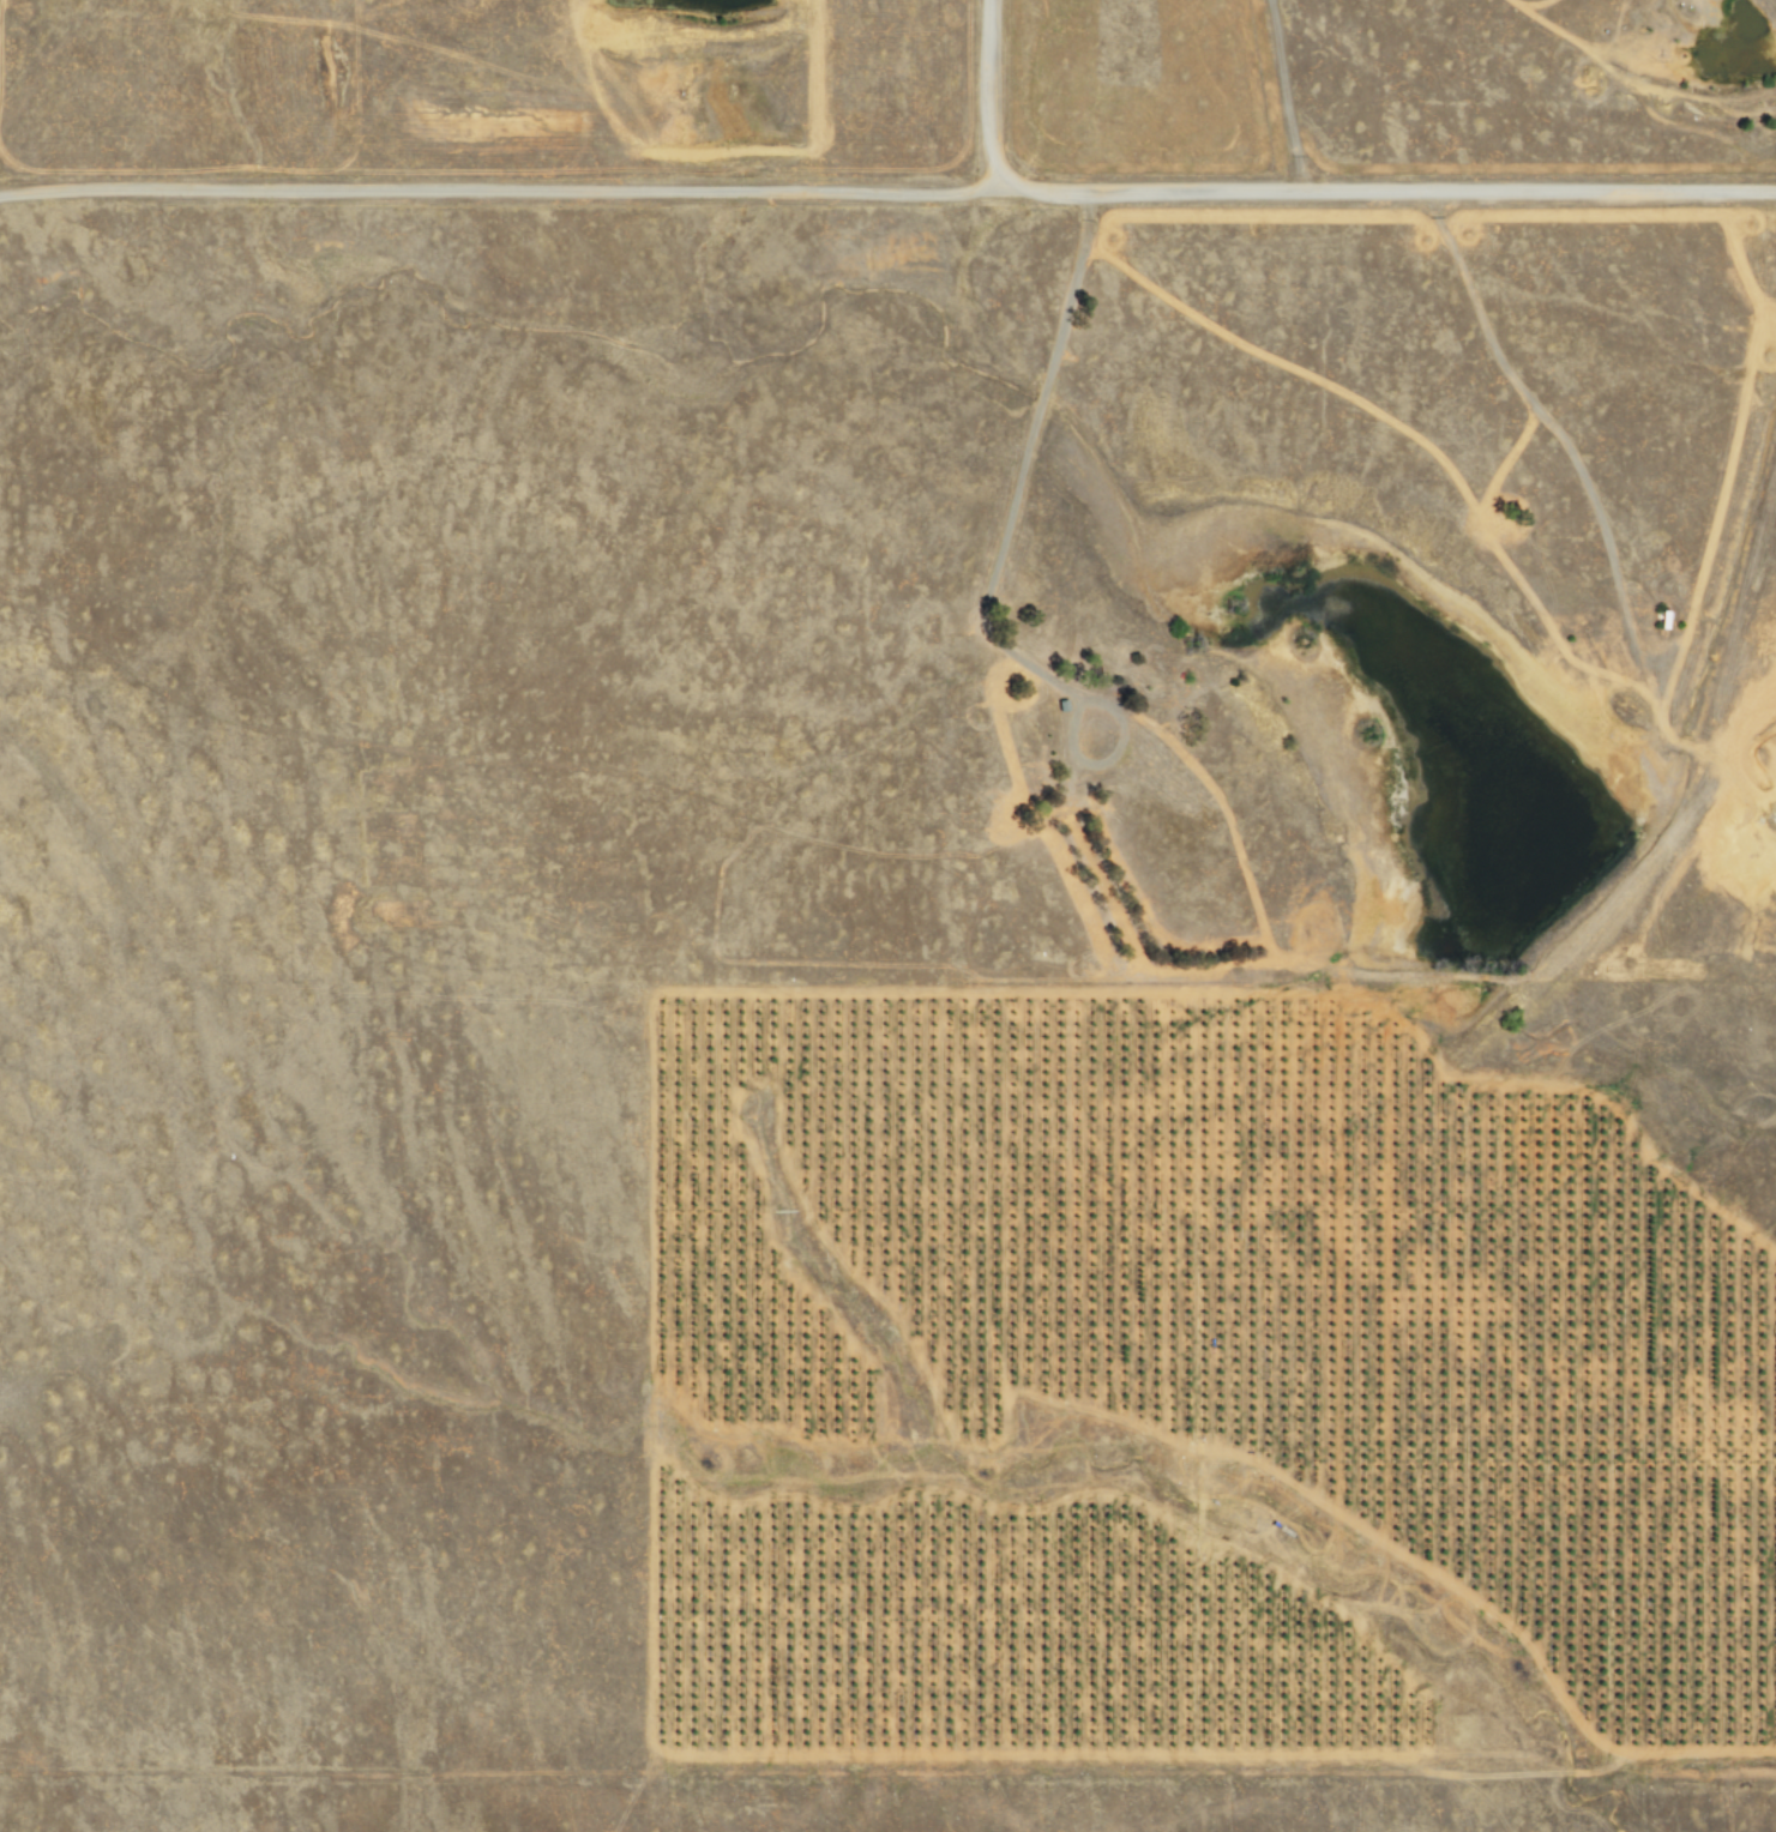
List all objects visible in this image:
road: (1283, 94)
road: (986, 96)
road: (1387, 188)
road: (500, 189)
dam: (1547, 945)
road: (887, 1773)

